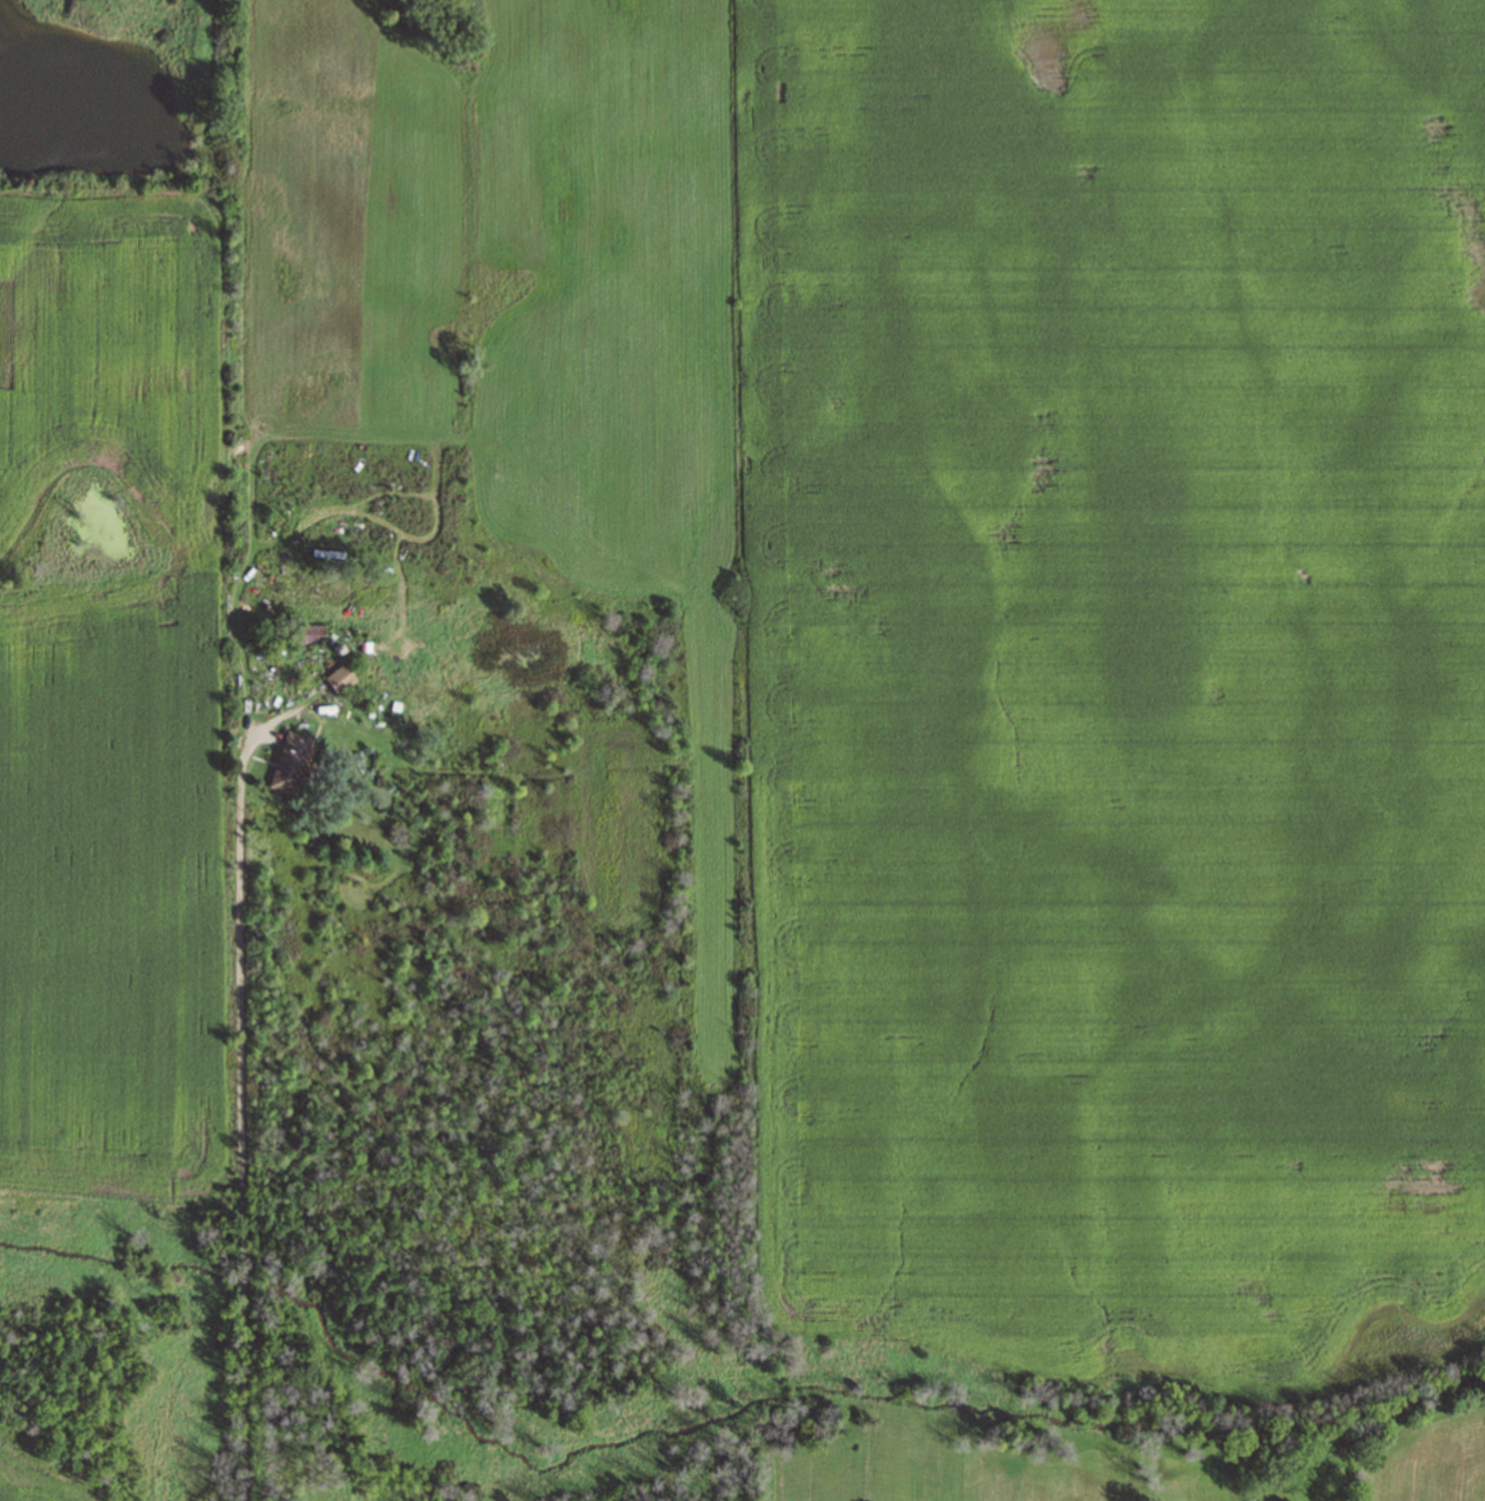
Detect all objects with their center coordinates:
building: (339, 679)
building: (289, 763)
road: (240, 1109)

